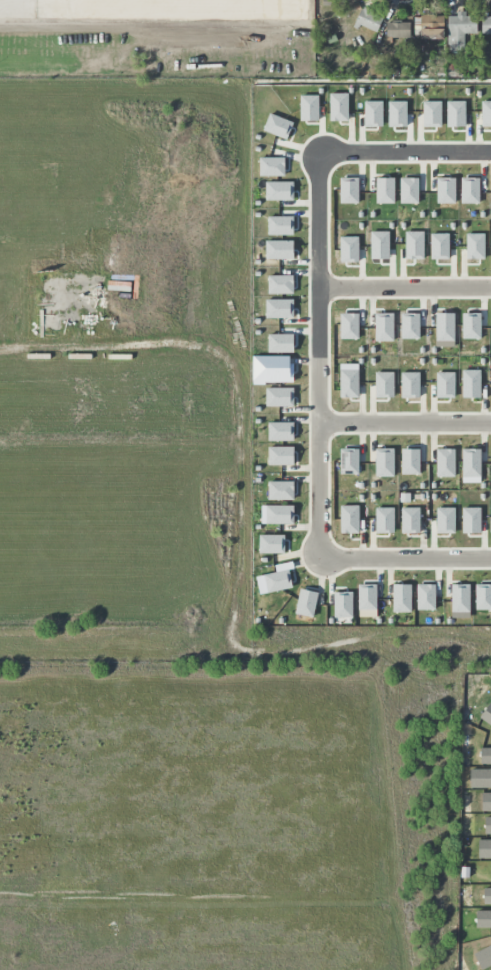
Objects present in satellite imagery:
road: (99, 3)
building: (368, 20)
building: (486, 25)
building: (431, 27)
building: (398, 30)
building: (459, 31)
road: (404, 152)
road: (404, 288)
road: (318, 354)
building: (470, 384)
building: (410, 385)
building: (445, 385)
road: (404, 423)
building: (280, 456)
building: (409, 461)
building: (445, 463)
building: (471, 463)
building: (281, 490)
building: (280, 515)
building: (349, 519)
building: (384, 520)
building: (410, 521)
building: (445, 521)
building: (471, 521)
building: (271, 544)
road: (404, 556)
building: (277, 581)
building: (367, 597)
building: (425, 597)
building: (482, 597)
building: (401, 599)
building: (460, 599)
building: (306, 603)
building: (343, 605)

